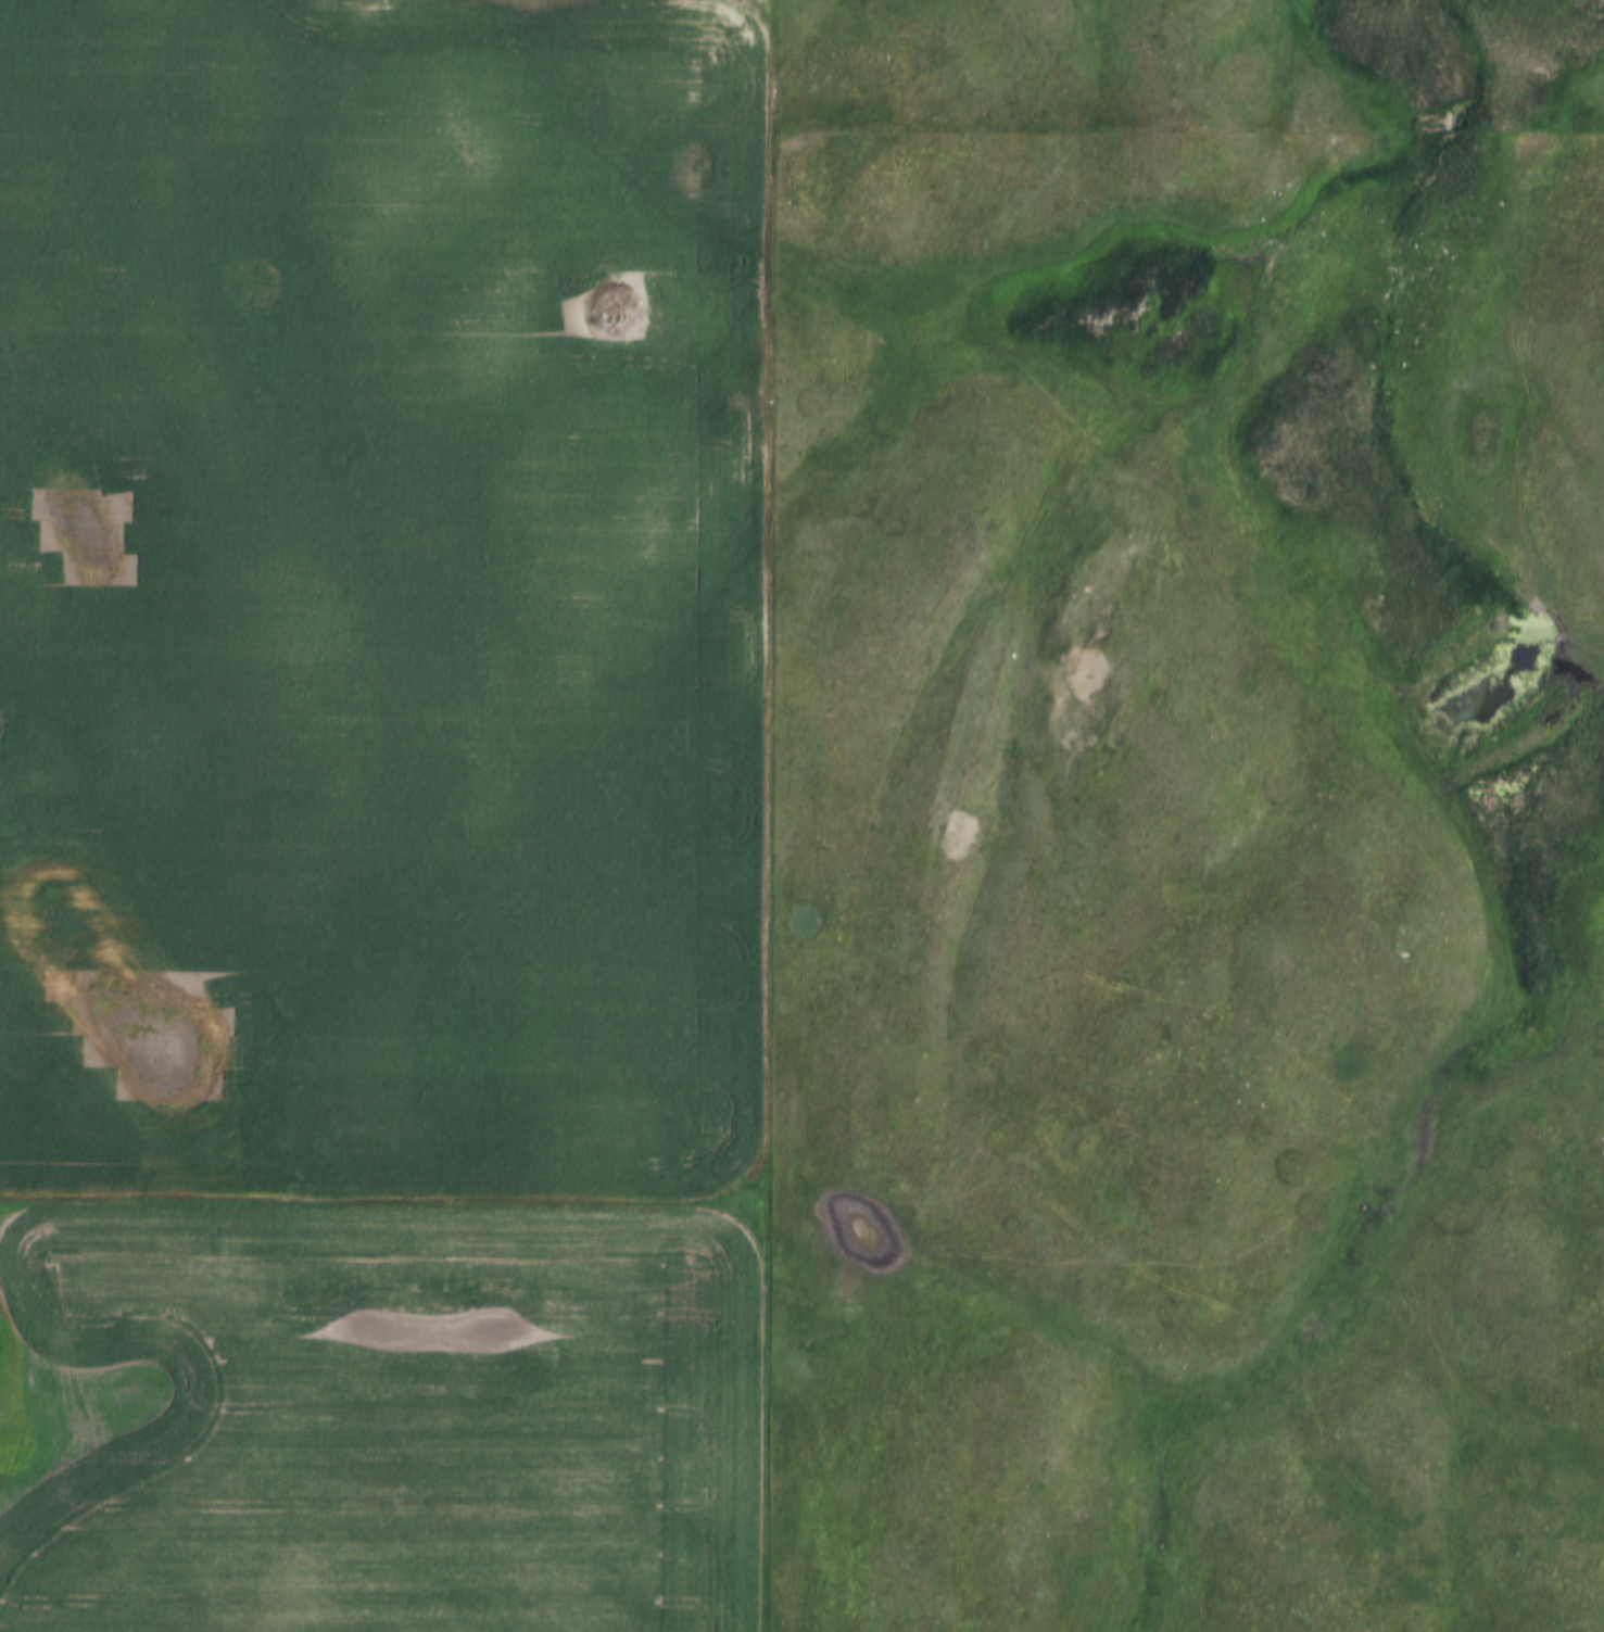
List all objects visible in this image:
road: (766, 815)

